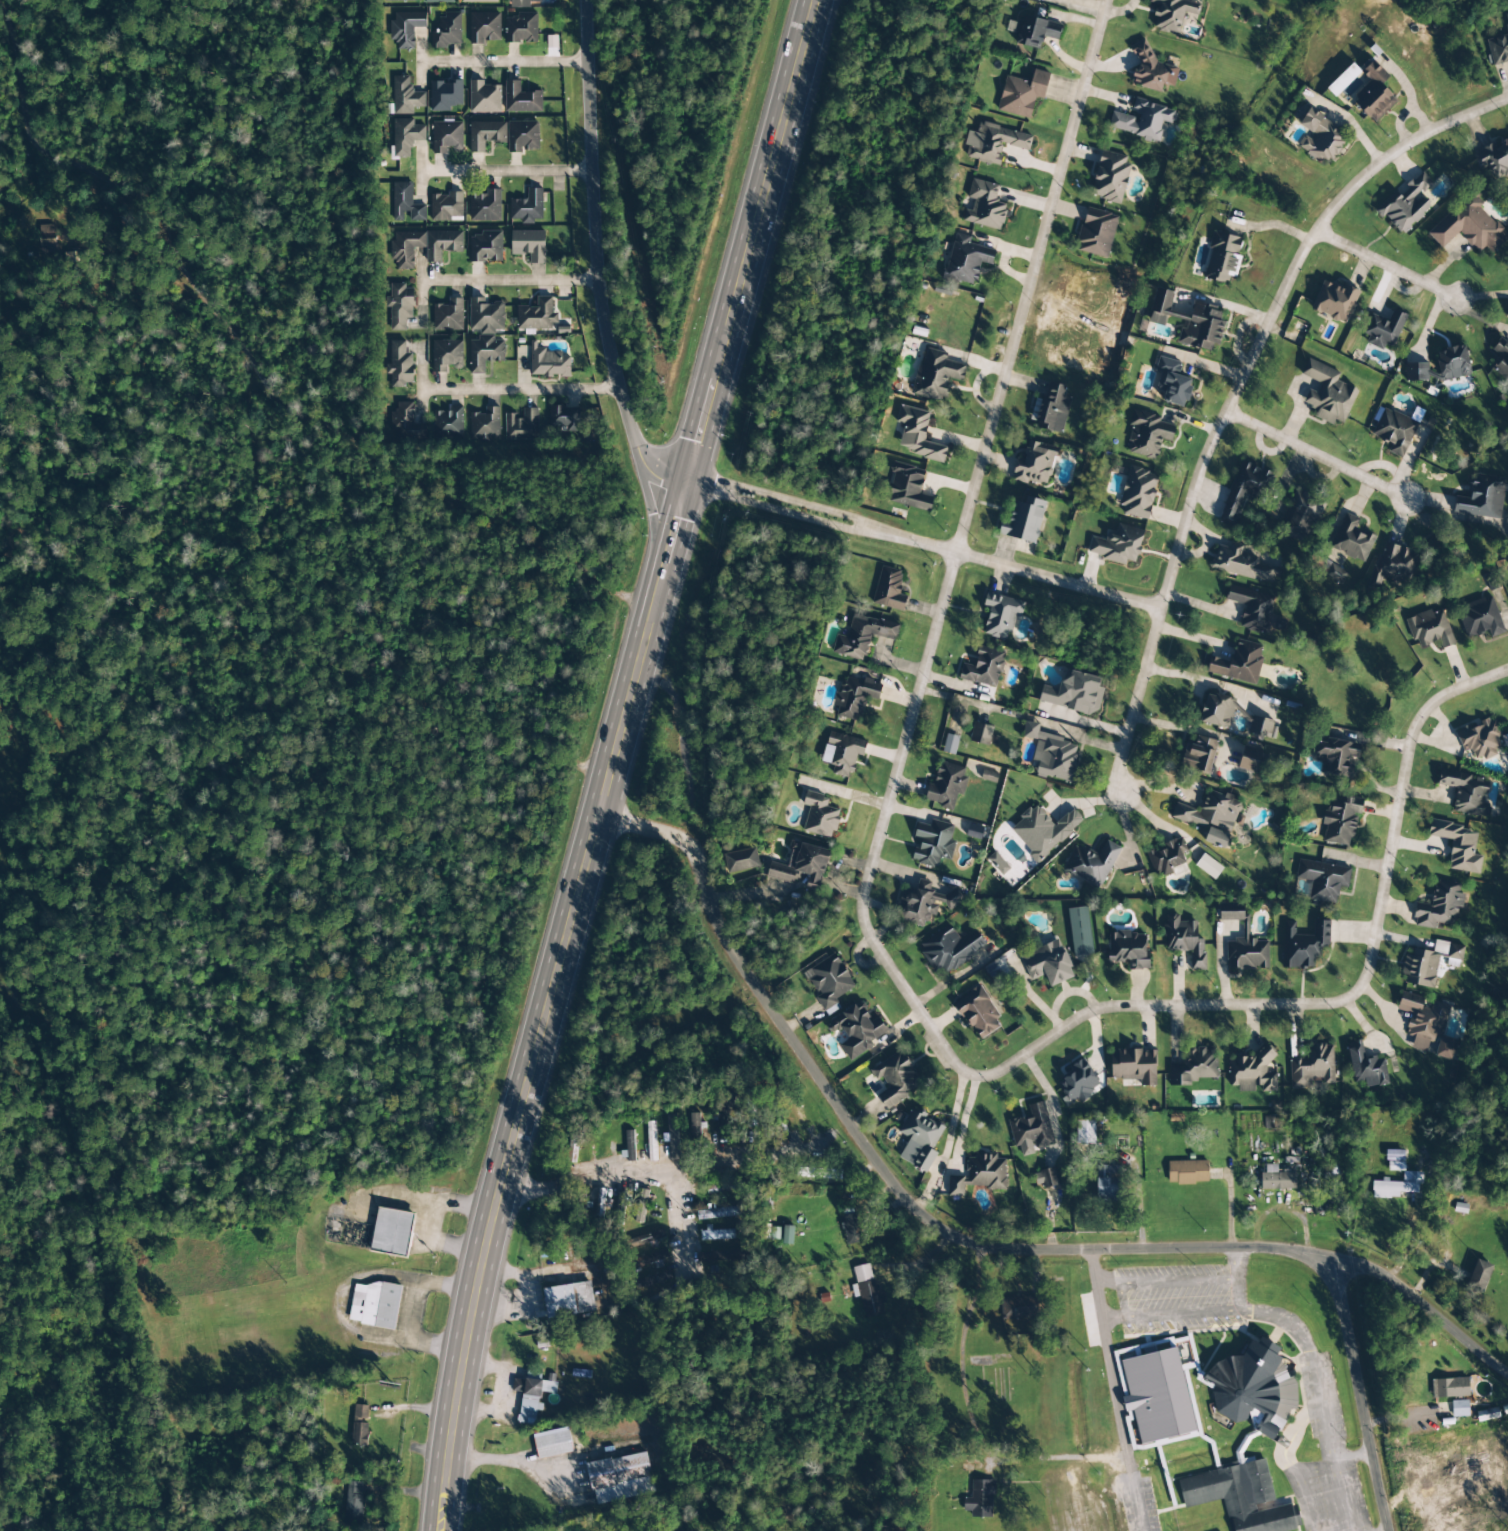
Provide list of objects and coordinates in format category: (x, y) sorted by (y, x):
building: (399, 1)
building: (438, 1)
building: (478, 1)
building: (521, 3)
building: (1172, 13)
building: (1506, 21)
building: (484, 28)
building: (405, 29)
building: (521, 29)
building: (447, 31)
building: (1037, 31)
building: (1498, 50)
road: (502, 63)
building: (1150, 69)
building: (1342, 81)
building: (1373, 93)
building: (1022, 94)
building: (445, 95)
building: (405, 96)
building: (484, 98)
building: (521, 99)
road: (783, 114)
building: (1143, 120)
building: (486, 135)
building: (523, 136)
building: (1318, 136)
building: (405, 137)
building: (446, 137)
building: (993, 143)
building: (1495, 160)
road: (505, 172)
building: (1110, 177)
building: (405, 203)
building: (1406, 204)
building: (984, 206)
building: (485, 207)
building: (527, 207)
building: (1469, 226)
building: (1096, 234)
building: (529, 245)
building: (423, 246)
building: (486, 247)
road: (591, 254)
building: (1222, 258)
building: (966, 259)
road: (1386, 264)
road: (506, 281)
building: (1334, 301)
building: (399, 306)
building: (448, 316)
building: (536, 316)
building: (1507, 316)
building: (1189, 321)
building: (1383, 330)
building: (485, 334)
building: (446, 355)
building: (1501, 360)
building: (548, 363)
building: (399, 365)
building: (1440, 366)
building: (935, 376)
building: (1172, 382)
road: (267, 384)
road: (517, 389)
road: (1233, 390)
building: (1327, 393)
building: (1051, 409)
building: (564, 418)
building: (406, 421)
building: (448, 422)
building: (484, 424)
building: (522, 425)
building: (1396, 431)
building: (916, 434)
building: (1147, 435)
road: (1312, 456)
building: (1034, 464)
traffic signals: (686, 473)
building: (908, 487)
building: (1244, 491)
building: (1137, 494)
building: (1481, 497)
road: (647, 502)
building: (1300, 517)
building: (1023, 520)
building: (1351, 539)
road: (919, 542)
building: (1117, 545)
building: (1243, 564)
building: (1392, 565)
building: (1332, 572)
building: (889, 589)
building: (1252, 607)
building: (1001, 615)
building: (1480, 618)
building: (1429, 629)
building: (864, 635)
building: (1239, 663)
building: (983, 668)
building: (1077, 693)
building: (855, 696)
building: (1217, 712)
road: (677, 722)
building: (1262, 727)
building: (981, 734)
building: (1480, 738)
building: (841, 754)
building: (1053, 755)
building: (1199, 755)
building: (1336, 757)
building: (1249, 759)
building: (987, 773)
building: (946, 786)
building: (1466, 792)
building: (1210, 812)
building: (819, 816)
building: (1341, 821)
building: (1043, 831)
building: (932, 843)
building: (1458, 846)
building: (1167, 856)
building: (741, 860)
building: (998, 863)
building: (1091, 864)
building: (800, 866)
building: (1208, 867)
road: (579, 876)
building: (1323, 879)
building: (923, 903)
building: (1439, 906)
building: (1079, 931)
road: (866, 935)
building: (1184, 940)
building: (1303, 944)
building: (1245, 947)
building: (1128, 949)
building: (950, 950)
building: (1048, 963)
building: (1429, 963)
building: (997, 970)
building: (829, 981)
building: (978, 1013)
building: (1426, 1025)
building: (857, 1029)
building: (1312, 1066)
building: (1366, 1066)
building: (1133, 1067)
building: (1193, 1067)
building: (1250, 1072)
building: (896, 1078)
building: (1077, 1082)
building: (720, 1122)
building: (695, 1126)
building: (1031, 1130)
building: (672, 1136)
building: (919, 1140)
building: (651, 1141)
building: (628, 1147)
building: (1394, 1157)
road: (664, 1159)
building: (1187, 1172)
building: (979, 1174)
building: (1045, 1178)
building: (1276, 1179)
building: (1108, 1184)
building: (1397, 1186)
building: (621, 1202)
building: (641, 1206)
building: (718, 1213)
building: (851, 1229)
building: (392, 1232)
building: (717, 1234)
road: (959, 1236)
building: (645, 1239)
building: (1479, 1276)
building: (653, 1279)
building: (867, 1291)
building: (568, 1300)
building: (375, 1305)
building: (1018, 1307)
road: (1113, 1384)
road: (1312, 1385)
building: (1253, 1387)
building: (1449, 1388)
building: (1157, 1395)
building: (531, 1397)
road: (965, 1418)
building: (359, 1425)
building: (552, 1443)
building: (620, 1478)
building: (1240, 1497)
building: (979, 1499)
building: (353, 1505)

